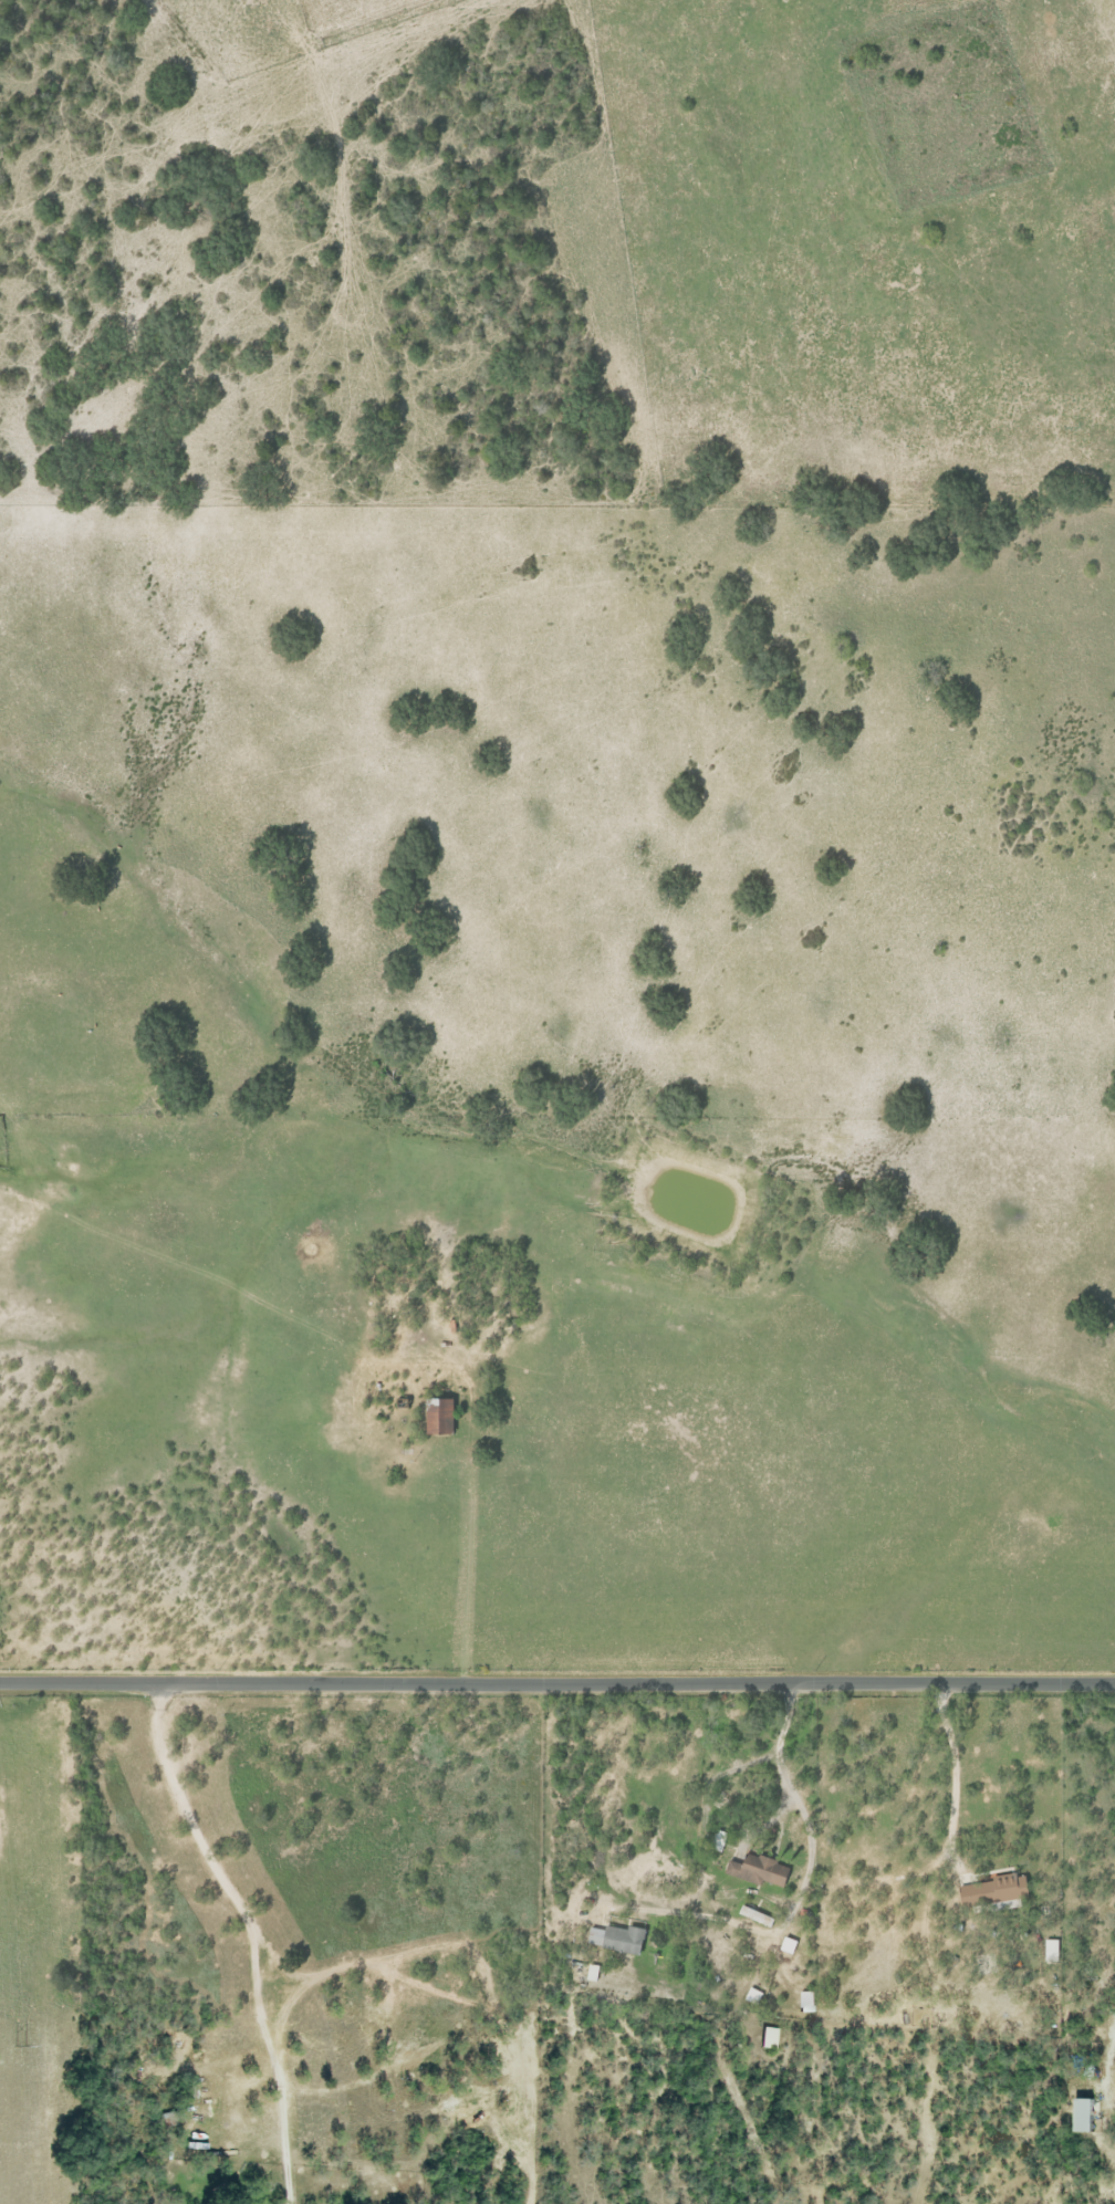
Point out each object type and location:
building: (438, 1416)
road: (471, 1505)
road: (557, 1686)
road: (952, 1778)
road: (210, 1862)
building: (757, 1870)
road: (802, 1890)
building: (993, 1890)
building: (754, 1915)
building: (615, 1939)
road: (421, 1945)
building: (1051, 1950)
road: (278, 1958)
road: (386, 1994)
building: (804, 2002)
building: (769, 2037)
power tower: (21, 2046)
building: (1082, 2114)
road: (286, 2118)

